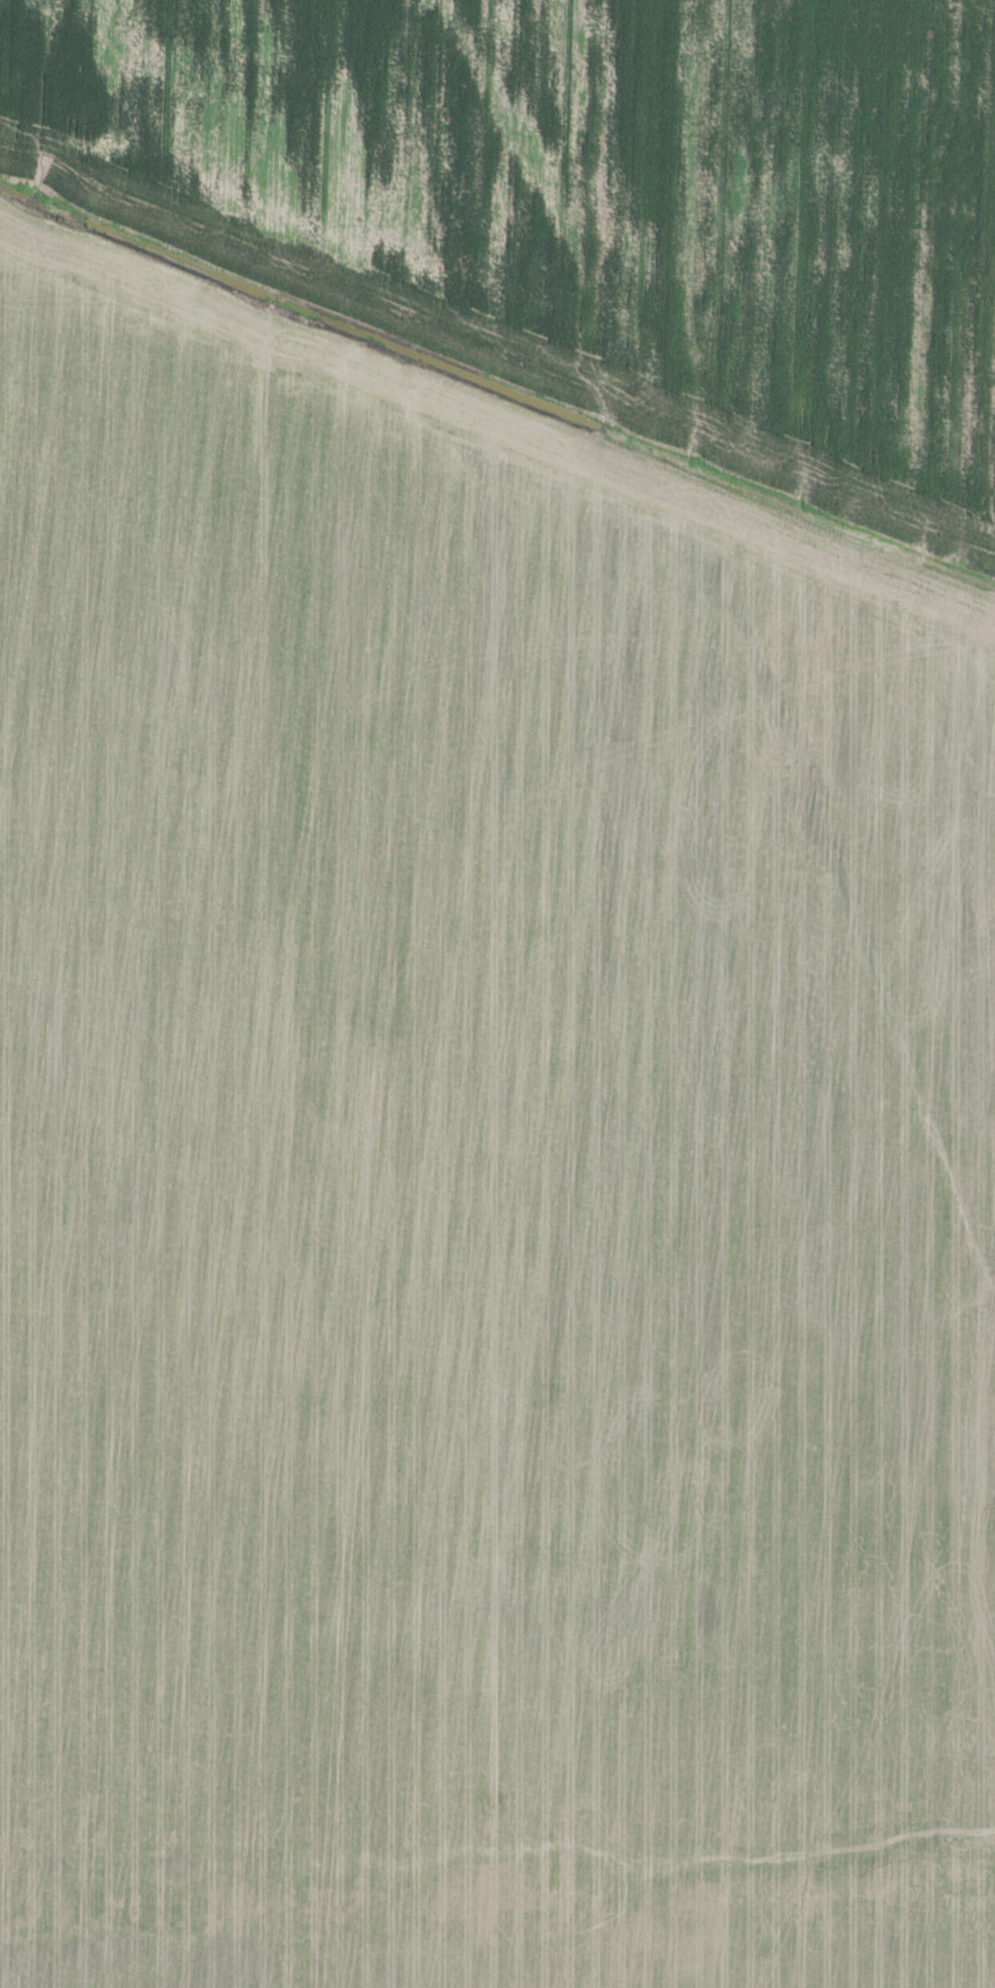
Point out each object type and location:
crop: (585, 200)
crop: (476, 1190)

